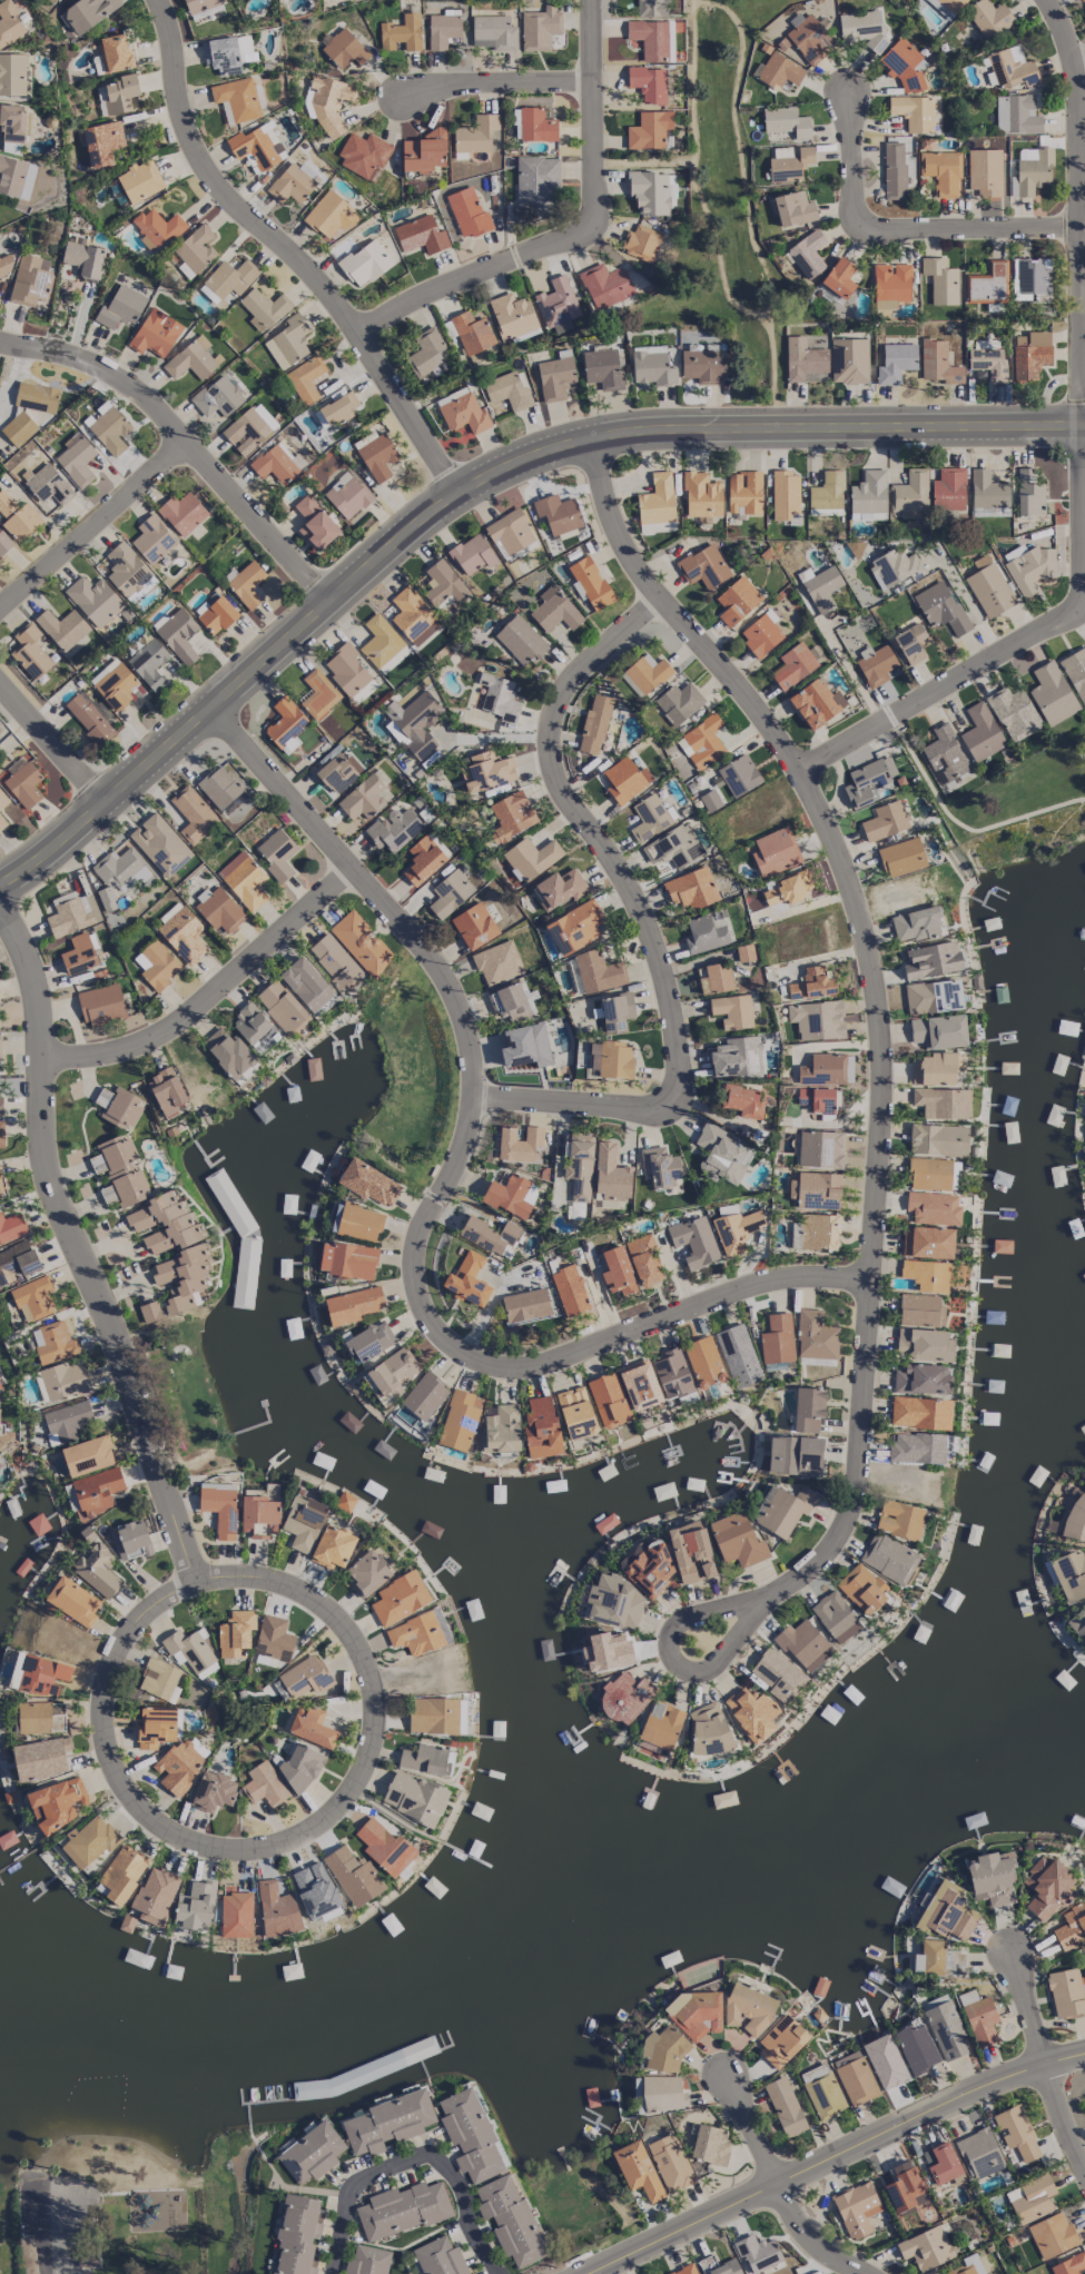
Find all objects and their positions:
building: (1084, 3)
building: (200, 4)
building: (948, 4)
building: (88, 12)
building: (987, 18)
building: (9, 23)
building: (540, 28)
building: (862, 28)
road: (1062, 28)
building: (442, 30)
building: (402, 32)
building: (493, 32)
building: (809, 38)
building: (652, 39)
building: (344, 49)
building: (116, 52)
building: (227, 53)
road: (1082, 56)
building: (904, 65)
building: (1010, 67)
building: (780, 70)
building: (12, 73)
road: (497, 80)
building: (648, 83)
building: (118, 93)
building: (236, 99)
building: (327, 102)
building: (914, 112)
building: (1016, 113)
building: (786, 121)
building: (13, 122)
building: (534, 125)
building: (649, 129)
building: (474, 137)
building: (102, 142)
building: (257, 147)
road: (738, 149)
building: (424, 151)
building: (364, 155)
building: (790, 165)
building: (894, 170)
building: (941, 171)
building: (985, 171)
building: (16, 176)
building: (140, 180)
building: (535, 181)
building: (290, 184)
building: (649, 191)
building: (793, 208)
road: (699, 210)
building: (467, 212)
building: (331, 214)
park: (723, 214)
road: (578, 226)
road: (906, 227)
building: (156, 228)
building: (421, 235)
building: (641, 243)
road: (292, 247)
building: (195, 248)
building: (807, 254)
building: (83, 257)
building: (365, 263)
building: (6, 265)
building: (1032, 275)
building: (839, 277)
building: (30, 279)
building: (228, 279)
building: (940, 280)
building: (987, 283)
building: (890, 284)
building: (605, 285)
building: (556, 303)
building: (993, 305)
building: (120, 307)
building: (264, 308)
building: (512, 317)
building: (470, 332)
building: (155, 333)
building: (288, 342)
building: (426, 352)
building: (481, 354)
building: (1030, 354)
building: (191, 359)
building: (848, 360)
building: (896, 362)
building: (937, 362)
building: (988, 364)
road: (106, 365)
building: (702, 366)
building: (602, 368)
building: (555, 377)
building: (305, 379)
building: (507, 390)
building: (36, 396)
building: (217, 397)
building: (338, 408)
building: (463, 413)
building: (18, 428)
building: (109, 428)
building: (249, 428)
building: (376, 455)
building: (76, 458)
building: (274, 464)
road: (470, 478)
building: (48, 484)
building: (948, 488)
building: (987, 490)
building: (828, 491)
road: (1083, 491)
building: (744, 492)
building: (1028, 492)
building: (701, 494)
building: (785, 494)
building: (910, 494)
building: (869, 495)
building: (347, 496)
building: (657, 500)
building: (183, 513)
building: (558, 513)
road: (255, 515)
building: (17, 517)
building: (315, 523)
road: (93, 524)
building: (662, 526)
building: (510, 532)
building: (152, 538)
building: (3, 544)
building: (472, 554)
building: (703, 566)
building: (895, 567)
building: (1029, 568)
building: (126, 570)
building: (589, 582)
building: (443, 583)
building: (247, 584)
building: (988, 586)
building: (821, 587)
building: (93, 600)
building: (737, 600)
road: (992, 604)
building: (941, 609)
building: (554, 610)
building: (215, 613)
building: (414, 617)
building: (62, 627)
building: (761, 633)
building: (178, 635)
building: (521, 640)
building: (381, 643)
building: (911, 643)
building: (30, 651)
road: (851, 658)
building: (149, 663)
building: (875, 664)
building: (793, 665)
building: (647, 672)
building: (1075, 672)
building: (349, 673)
building: (116, 684)
building: (318, 693)
building: (1052, 693)
building: (499, 696)
building: (678, 702)
building: (816, 703)
building: (1013, 712)
building: (89, 719)
building: (414, 722)
building: (285, 724)
building: (594, 724)
building: (980, 732)
road: (493, 738)
road: (50, 740)
building: (701, 742)
building: (944, 753)
building: (486, 771)
building: (336, 773)
building: (739, 775)
building: (625, 779)
building: (868, 780)
building: (23, 788)
building: (223, 788)
road: (283, 793)
building: (364, 798)
building: (2, 800)
building: (710, 800)
park: (1013, 807)
building: (193, 814)
building: (511, 815)
building: (650, 818)
building: (885, 821)
building: (2, 822)
road: (957, 822)
building: (394, 829)
building: (160, 843)
building: (673, 847)
building: (775, 851)
building: (277, 853)
building: (530, 857)
building: (901, 857)
building: (423, 859)
building: (122, 869)
building: (244, 879)
building: (559, 888)
building: (691, 888)
building: (789, 889)
building: (450, 893)
building: (107, 898)
building: (219, 909)
road: (637, 914)
building: (917, 925)
building: (474, 926)
building: (574, 927)
building: (181, 932)
building: (704, 935)
building: (361, 942)
building: (744, 952)
building: (79, 953)
building: (931, 960)
building: (335, 962)
building: (497, 962)
building: (156, 963)
building: (596, 972)
building: (306, 983)
building: (811, 983)
building: (933, 996)
road: (211, 998)
building: (511, 1001)
building: (101, 1005)
building: (280, 1006)
building: (615, 1011)
building: (732, 1011)
building: (818, 1019)
building: (250, 1024)
building: (938, 1030)
building: (524, 1045)
building: (0, 1047)
building: (228, 1051)
building: (737, 1057)
building: (612, 1059)
building: (936, 1068)
building: (826, 1069)
building: (166, 1091)
building: (818, 1099)
building: (742, 1100)
building: (941, 1103)
building: (0, 1105)
building: (119, 1106)
road: (882, 1114)
building: (1, 1134)
building: (938, 1139)
building: (520, 1144)
building: (820, 1148)
building: (722, 1154)
building: (579, 1164)
building: (660, 1167)
building: (119, 1171)
building: (611, 1174)
building: (929, 1174)
building: (368, 1183)
building: (816, 1190)
building: (530, 1193)
building: (507, 1196)
building: (933, 1207)
building: (165, 1223)
building: (359, 1223)
building: (11, 1227)
building: (736, 1229)
building: (815, 1232)
building: (491, 1235)
building: (694, 1240)
building: (927, 1242)
road: (80, 1246)
building: (347, 1259)
building: (643, 1259)
building: (17, 1260)
building: (618, 1271)
building: (926, 1274)
building: (184, 1276)
building: (467, 1279)
building: (569, 1289)
building: (32, 1298)
building: (353, 1305)
road: (427, 1305)
building: (525, 1305)
building: (920, 1309)
building: (150, 1311)
building: (816, 1335)
building: (777, 1338)
building: (371, 1341)
building: (53, 1342)
building: (924, 1344)
building: (738, 1355)
building: (703, 1362)
building: (392, 1371)
building: (672, 1373)
building: (921, 1380)
building: (61, 1381)
building: (639, 1384)
building: (0, 1386)
building: (424, 1395)
park: (185, 1397)
building: (609, 1400)
building: (808, 1408)
building: (575, 1412)
building: (920, 1412)
building: (67, 1418)
building: (460, 1420)
building: (541, 1427)
building: (4, 1437)
building: (917, 1447)
building: (87, 1455)
building: (795, 1455)
building: (0, 1463)
building: (97, 1490)
building: (345, 1501)
building: (782, 1509)
building: (220, 1510)
building: (259, 1516)
building: (899, 1519)
building: (1075, 1520)
building: (303, 1522)
building: (132, 1540)
building: (737, 1540)
building: (333, 1546)
building: (690, 1551)
building: (888, 1558)
building: (650, 1569)
building: (98, 1570)
building: (368, 1571)
building: (1069, 1574)
building: (861, 1588)
building: (400, 1598)
building: (73, 1601)
building: (614, 1602)
building: (835, 1616)
building: (1077, 1622)
building: (235, 1632)
building: (415, 1634)
building: (803, 1644)
building: (188, 1650)
building: (776, 1673)
building: (42, 1674)
building: (305, 1677)
building: (159, 1680)
building: (624, 1695)
road: (373, 1701)
building: (750, 1712)
building: (433, 1716)
building: (40, 1717)
building: (661, 1724)
building: (156, 1727)
building: (312, 1727)
building: (708, 1729)
building: (40, 1758)
building: (426, 1760)
building: (299, 1766)
building: (179, 1767)
building: (264, 1784)
building: (214, 1790)
building: (414, 1798)
building: (57, 1803)
building: (89, 1840)
building: (385, 1847)
building: (122, 1873)
building: (353, 1876)
building: (992, 1877)
building: (1047, 1887)
building: (156, 1895)
building: (276, 1909)
building: (947, 1911)
building: (236, 1915)
building: (1071, 1926)
building: (938, 1958)
building: (1066, 1993)
building: (748, 2009)
building: (696, 2013)
building: (979, 2017)
building: (945, 2029)
building: (781, 2041)
building: (916, 2046)
building: (662, 2051)
road: (1045, 2056)
building: (855, 2078)
building: (822, 2092)
building: (662, 2093)
building: (785, 2106)
building: (387, 2122)
building: (1016, 2132)
building: (470, 2136)
building: (710, 2145)
building: (312, 2153)
building: (979, 2153)
road: (412, 2155)
road: (835, 2161)
building: (670, 2162)
building: (943, 2163)
building: (638, 2169)
building: (905, 2186)
road: (775, 2189)
park: (108, 2192)
building: (1030, 2198)
building: (856, 2207)
building: (403, 2208)
parking lot: (69, 2219)
building: (510, 2219)
building: (297, 2234)
building: (1052, 2235)
road: (68, 2236)
building: (926, 2247)
building: (757, 2252)
building: (440, 2257)
building: (368, 2261)
building: (1068, 2264)
building: (968, 2265)
building: (684, 2270)
building: (272, 2273)

